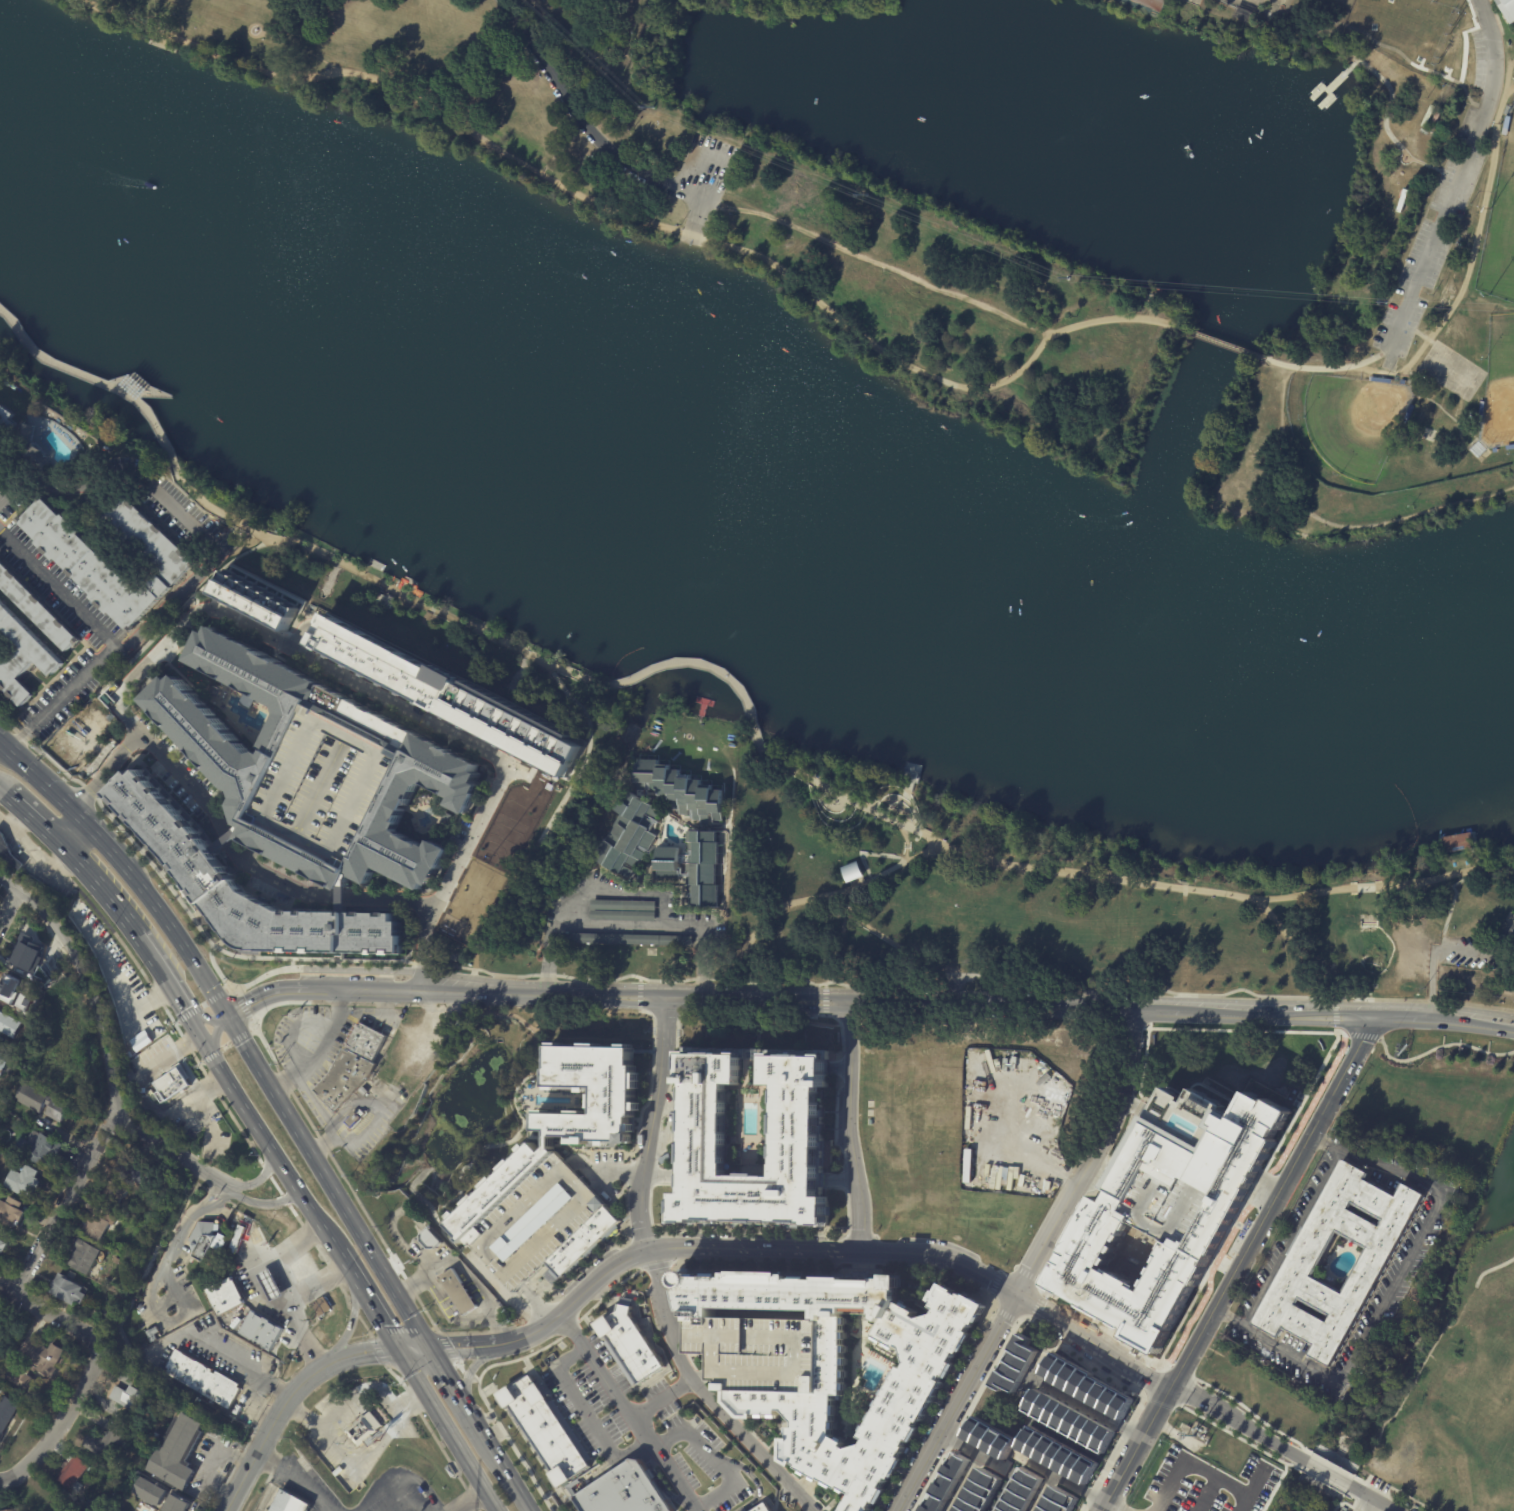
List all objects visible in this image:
building: (1147, 6)
building: (1507, 9)
road: (262, 28)
road: (162, 37)
pier: (160, 45)
road: (302, 48)
road: (640, 48)
pier: (1326, 89)
road: (1506, 95)
road: (597, 96)
power tower: (638, 105)
road: (584, 123)
parking lot: (708, 165)
road: (1459, 183)
power tower: (858, 194)
park: (719, 195)
park: (1390, 209)
road: (639, 218)
road: (698, 220)
park: (1500, 227)
road: (879, 265)
power tower: (1066, 280)
road: (1462, 289)
power tower: (1385, 305)
road: (1220, 342)
park: (1452, 370)
road: (102, 383)
park: (1499, 383)
building: (7, 422)
park: (1354, 422)
building: (31, 443)
building: (1, 452)
building: (96, 501)
building: (104, 504)
road: (176, 509)
river: (727, 518)
building: (84, 562)
pier: (375, 564)
pier: (409, 580)
road: (387, 584)
building: (262, 597)
building: (36, 607)
road: (98, 629)
road: (150, 642)
building: (23, 655)
road: (690, 664)
road: (147, 665)
building: (215, 692)
building: (446, 697)
pier: (703, 704)
road: (430, 724)
road: (755, 733)
road: (20, 740)
road: (589, 745)
road: (4, 747)
road: (784, 764)
building: (319, 769)
building: (907, 769)
road: (106, 771)
parking lot: (181, 772)
building: (914, 774)
pier: (909, 775)
road: (39, 779)
parking garage: (332, 780)
road: (1, 788)
building: (678, 788)
road: (865, 806)
road: (914, 810)
road: (74, 814)
road: (31, 815)
building: (447, 815)
road: (69, 831)
parking lot: (460, 831)
road: (904, 833)
building: (627, 834)
road: (931, 838)
road: (101, 841)
pier: (1457, 841)
building: (1457, 843)
building: (9, 851)
road: (869, 853)
road: (251, 855)
road: (905, 855)
building: (494, 858)
building: (667, 864)
building: (196, 868)
building: (702, 868)
building: (851, 871)
road: (1447, 875)
road: (1145, 882)
road: (1365, 886)
road: (100, 887)
road: (318, 888)
park: (980, 888)
road: (294, 889)
parking lot: (271, 891)
road: (631, 891)
road: (1303, 894)
road: (504, 897)
road: (1453, 897)
road: (152, 903)
road: (796, 904)
building: (622, 906)
road: (9, 907)
building: (622, 916)
parking lot: (627, 916)
park: (1416, 917)
road: (611, 924)
building: (1501, 936)
building: (627, 940)
road: (891, 942)
road: (1439, 949)
building: (28, 953)
parking lot: (1471, 953)
road: (706, 958)
road: (299, 959)
road: (212, 960)
road: (292, 963)
road: (332, 968)
road: (471, 973)
road: (162, 974)
road: (548, 974)
building: (48, 976)
road: (204, 977)
road: (702, 978)
road: (704, 982)
road: (228, 984)
road: (1041, 989)
building: (9, 991)
road: (269, 992)
road: (369, 992)
road: (542, 992)
road: (639, 993)
road: (687, 995)
road: (975, 995)
road: (779, 999)
road: (1431, 999)
road: (871, 1001)
road: (201, 1004)
road: (1012, 1004)
road: (243, 1006)
road: (1157, 1008)
road: (1279, 1012)
traffic signals: (227, 1013)
road: (1401, 1016)
road: (206, 1018)
road: (1471, 1021)
road: (252, 1022)
building: (7, 1024)
road: (1231, 1026)
road: (214, 1032)
road: (260, 1036)
building: (0, 1038)
building: (312, 1038)
road: (105, 1040)
building: (140, 1040)
road: (312, 1044)
road: (227, 1045)
street lamp: (650, 1045)
road: (1439, 1047)
building: (3, 1064)
building: (352, 1066)
road: (837, 1068)
street lamp: (648, 1082)
building: (172, 1083)
road: (1304, 1089)
building: (614, 1100)
building: (41, 1103)
road: (316, 1103)
road: (1124, 1116)
building: (354, 1119)
park: (976, 1120)
road: (371, 1121)
building: (29, 1122)
road: (653, 1124)
railway: (275, 1127)
road: (850, 1127)
road: (257, 1128)
building: (798, 1129)
road: (1325, 1139)
building: (38, 1149)
building: (0, 1151)
road: (1390, 1166)
building: (130, 1168)
road: (604, 1170)
road: (665, 1174)
road: (838, 1176)
road: (598, 1178)
road: (1263, 1178)
road: (258, 1180)
road: (329, 1181)
building: (22, 1182)
building: (112, 1193)
road: (1245, 1196)
road: (66, 1198)
road: (261, 1203)
building: (1158, 1208)
building: (11, 1214)
building: (537, 1217)
parking garage: (537, 1217)
building: (99, 1224)
road: (393, 1229)
road: (1290, 1235)
road: (432, 1237)
building: (204, 1239)
building: (236, 1239)
building: (429, 1239)
road: (174, 1243)
building: (2, 1245)
road: (444, 1250)
road: (832, 1252)
building: (84, 1257)
road: (340, 1262)
road: (1237, 1263)
road: (1032, 1264)
building: (1371, 1265)
road: (1491, 1268)
road: (464, 1272)
road: (1202, 1276)
building: (271, 1284)
road: (1392, 1287)
building: (66, 1290)
park: (1435, 1290)
road: (264, 1292)
building: (459, 1292)
building: (226, 1297)
road: (536, 1304)
road: (1463, 1305)
road: (50, 1313)
road: (373, 1315)
road: (1228, 1317)
road: (1095, 1319)
building: (0, 1321)
road: (351, 1323)
building: (262, 1331)
building: (149, 1334)
road: (306, 1337)
building: (630, 1343)
road: (461, 1348)
traffic signals: (395, 1349)
road: (413, 1349)
traffic signals: (432, 1349)
building: (762, 1352)
parking garage: (762, 1352)
road: (1289, 1354)
building: (48, 1356)
building: (1015, 1365)
road: (468, 1367)
building: (845, 1367)
road: (246, 1368)
road: (1180, 1369)
road: (703, 1374)
road: (604, 1377)
building: (203, 1379)
building: (32, 1383)
building: (1090, 1386)
road: (1410, 1388)
road: (458, 1391)
road: (1187, 1391)
parking lot: (592, 1396)
road: (707, 1396)
road: (660, 1397)
parking lot: (662, 1398)
building: (132, 1399)
road: (287, 1400)
road: (352, 1400)
building: (237, 1404)
road: (586, 1413)
road: (1099, 1414)
road: (1254, 1414)
building: (8, 1416)
building: (1069, 1419)
road: (1239, 1421)
road: (59, 1423)
building: (543, 1428)
road: (446, 1429)
building: (364, 1430)
building: (989, 1437)
road: (1241, 1438)
building: (113, 1442)
parking lot: (698, 1443)
building: (184, 1452)
building: (1057, 1455)
road: (714, 1458)
road: (1370, 1463)
road: (975, 1464)
road: (1333, 1464)
road: (213, 1466)
road: (1038, 1466)
building: (99, 1469)
building: (77, 1472)
road: (507, 1472)
road: (1327, 1473)
road: (671, 1475)
road: (751, 1476)
parking lot: (1218, 1477)
road: (297, 1478)
road: (658, 1480)
road: (1324, 1480)
building: (946, 1482)
road: (391, 1486)
road: (1393, 1487)
road: (271, 1490)
building: (624, 1491)
building: (980, 1491)
building: (154, 1492)
building: (1022, 1492)
road: (1043, 1493)
road: (1353, 1496)
road: (1371, 1498)
parking lot: (732, 1499)
road: (469, 1500)
building: (1060, 1500)
road: (1342, 1502)
building: (290, 1503)
road: (1122, 1503)
building: (182, 1504)
road: (1365, 1504)
building: (762, 1508)
road: (1357, 1509)
building: (17, 1510)
building: (111, 1510)

